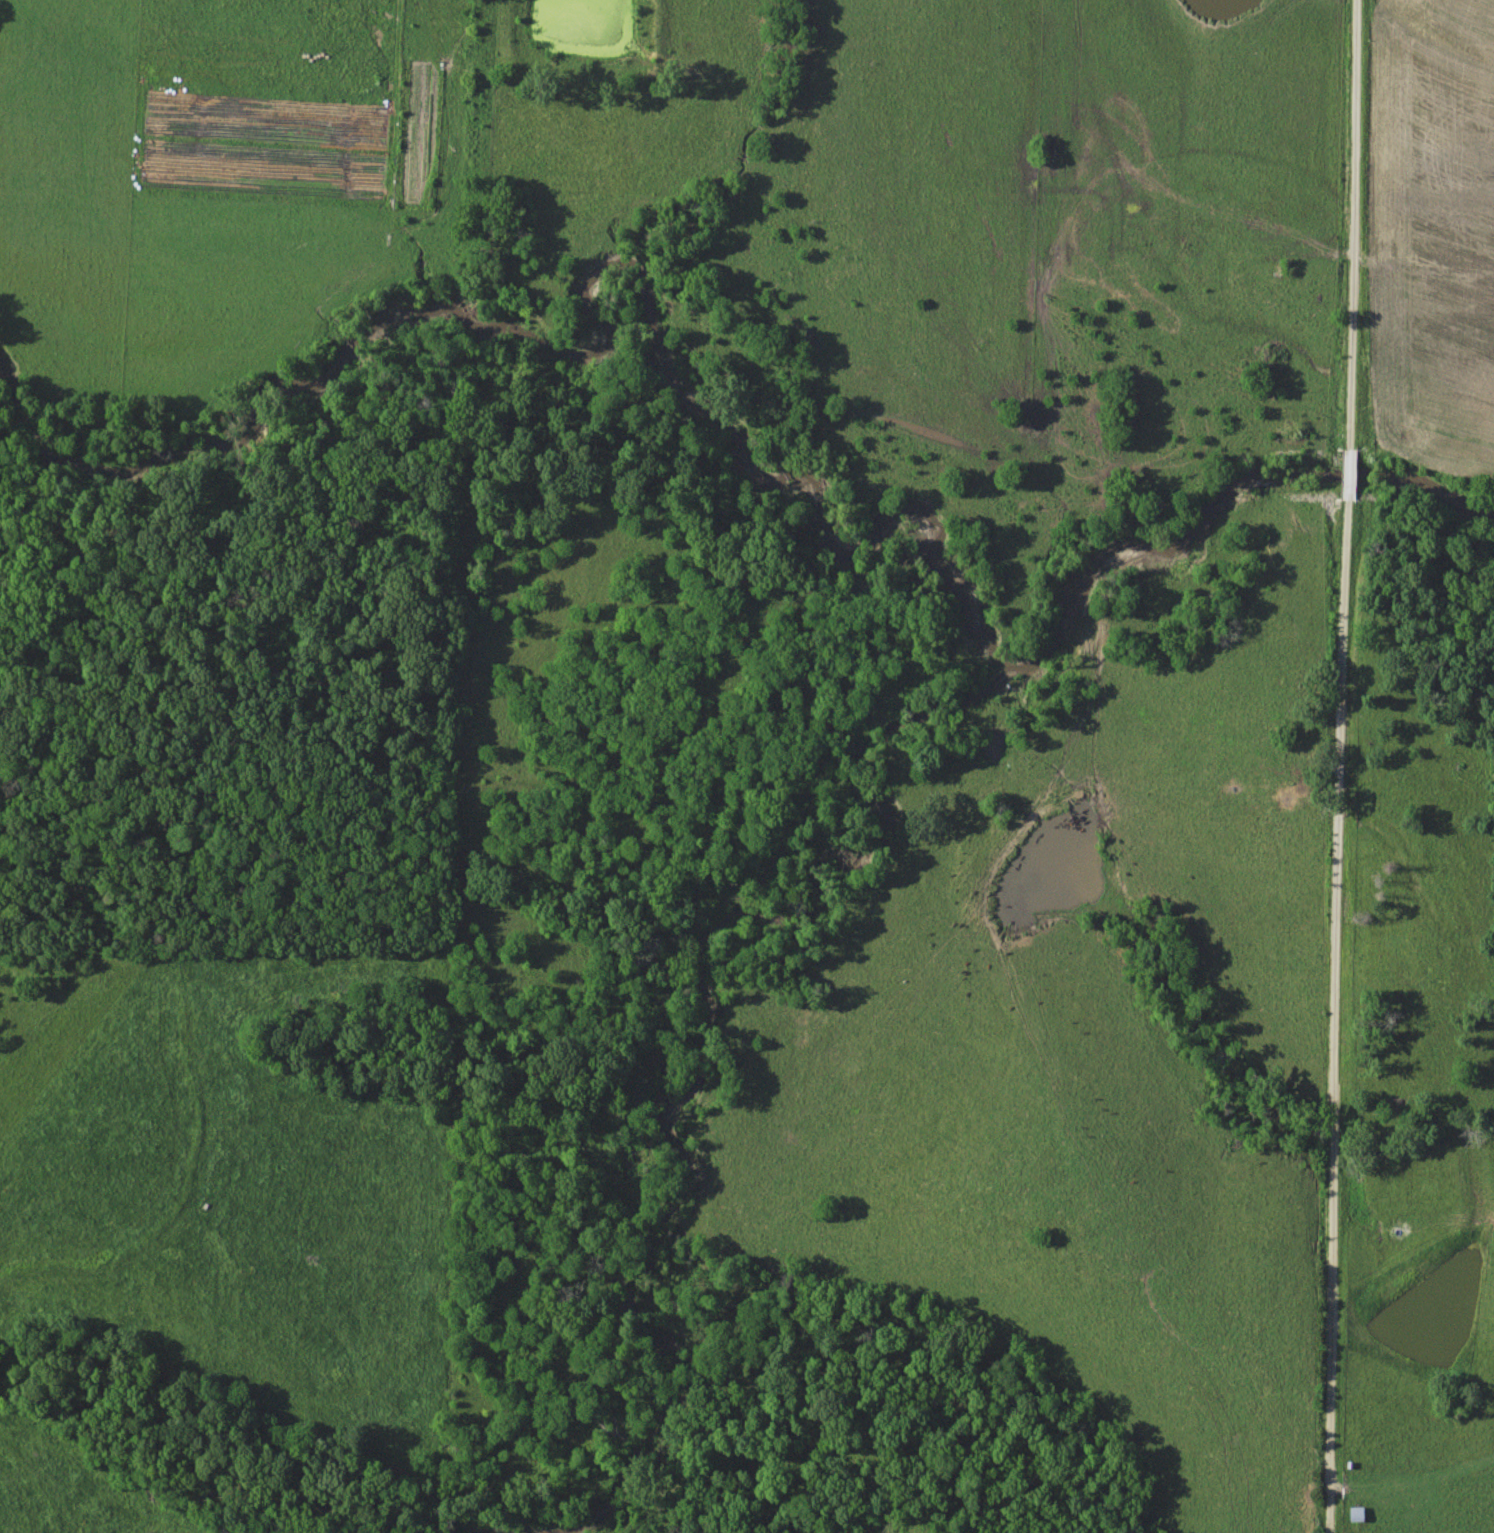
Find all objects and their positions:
road: (1340, 766)
building: (1356, 1514)

